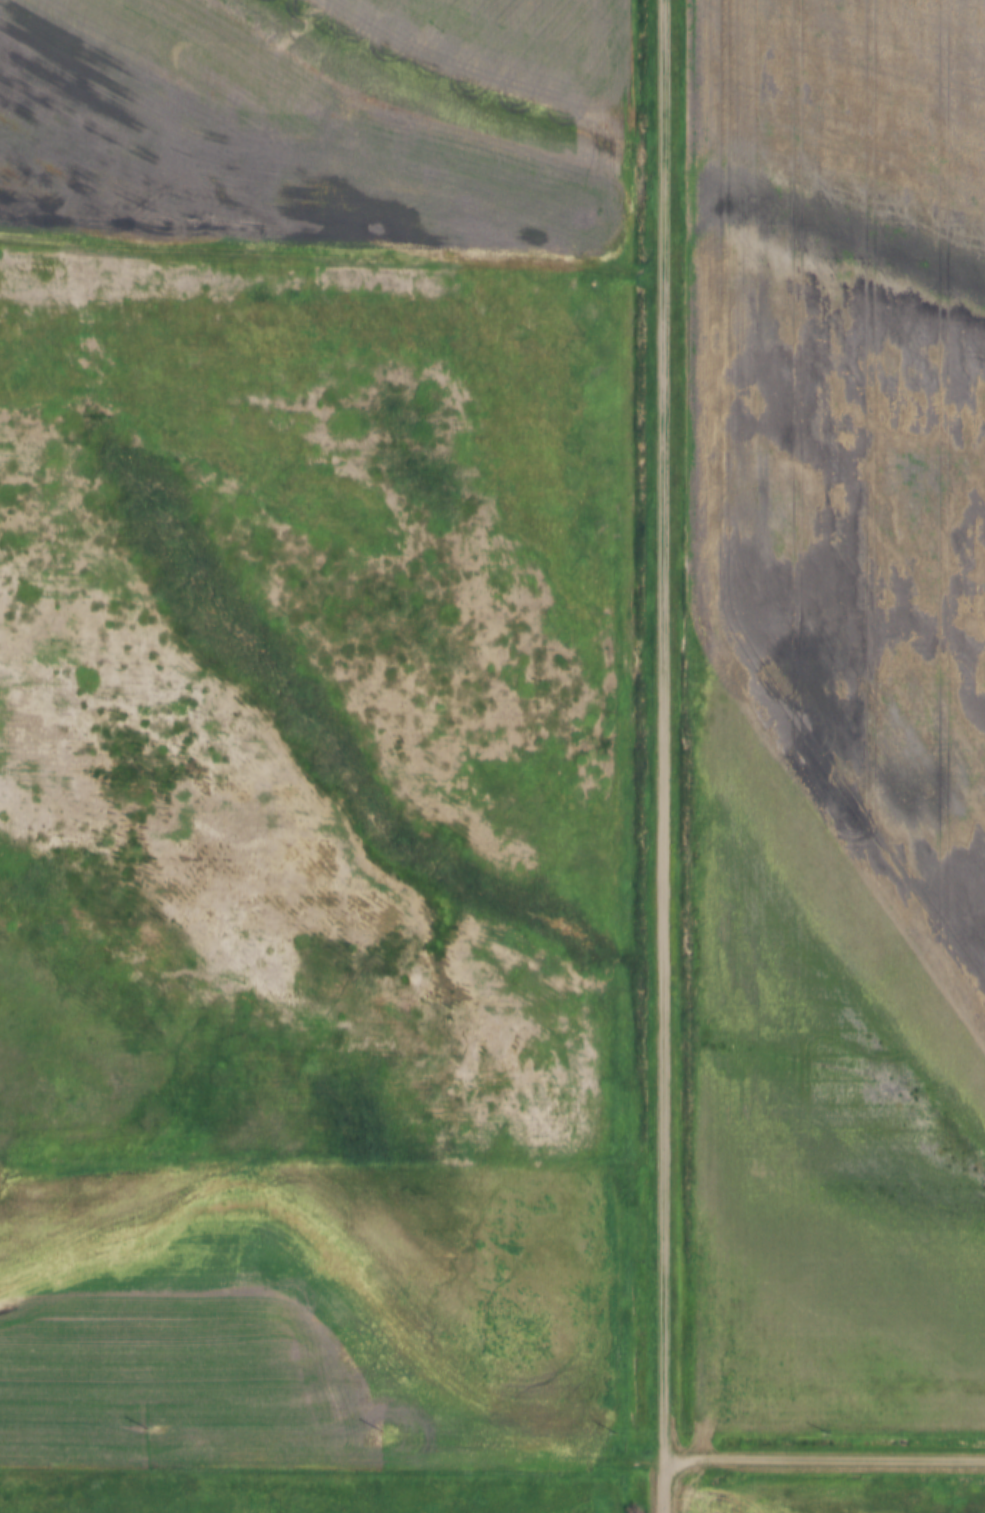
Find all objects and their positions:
road: (670, 733)
road: (826, 1462)
road: (334, 1471)
road: (668, 1489)

